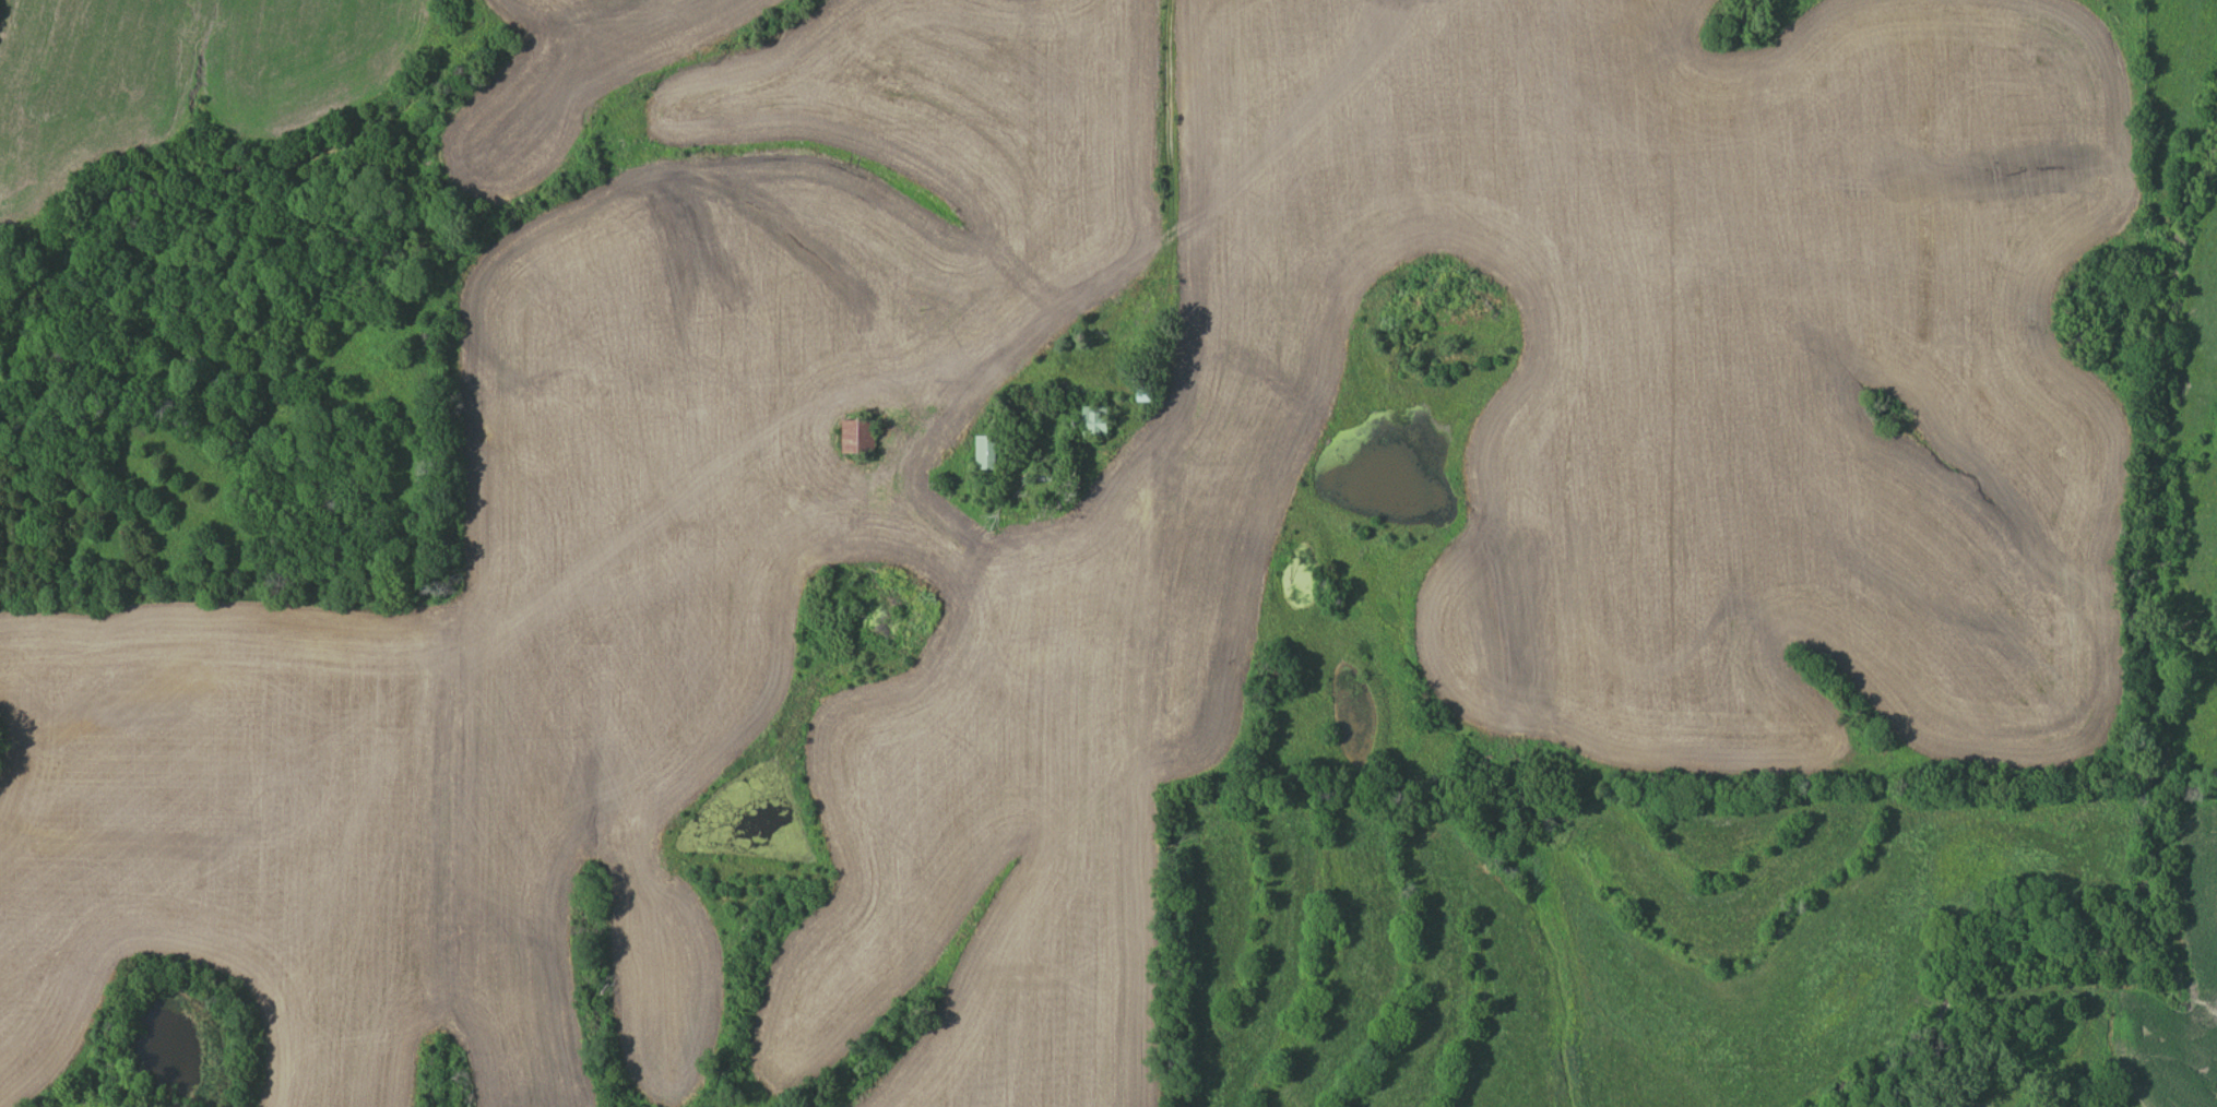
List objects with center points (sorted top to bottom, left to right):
road: (1241, 188)
road: (1171, 199)
road: (1167, 294)
building: (1146, 393)
building: (1098, 420)
building: (858, 438)
building: (987, 453)
road: (1106, 761)

